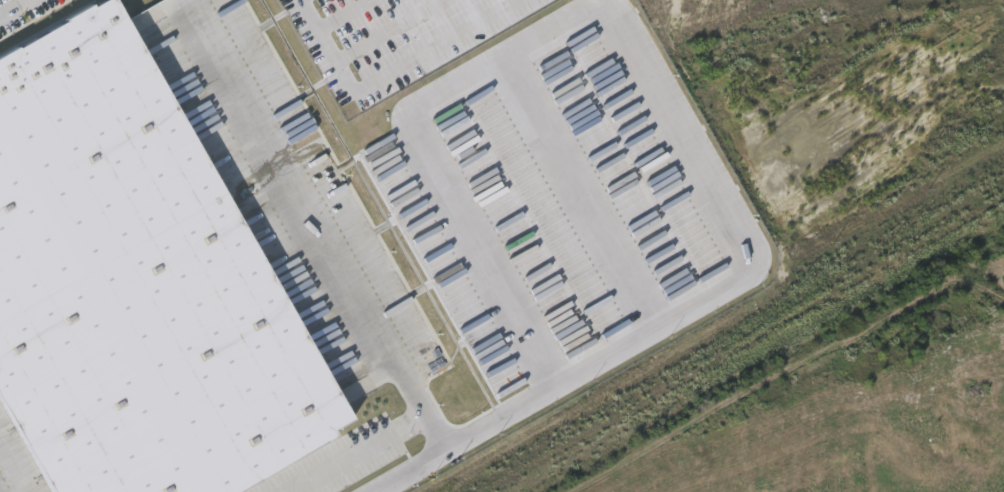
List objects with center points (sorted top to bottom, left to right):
road: (15, 8)
road: (338, 13)
road: (388, 30)
road: (390, 73)
road: (424, 155)
road: (583, 191)
road: (747, 232)
road: (348, 276)
building: (135, 283)
road: (483, 425)
road: (414, 473)

